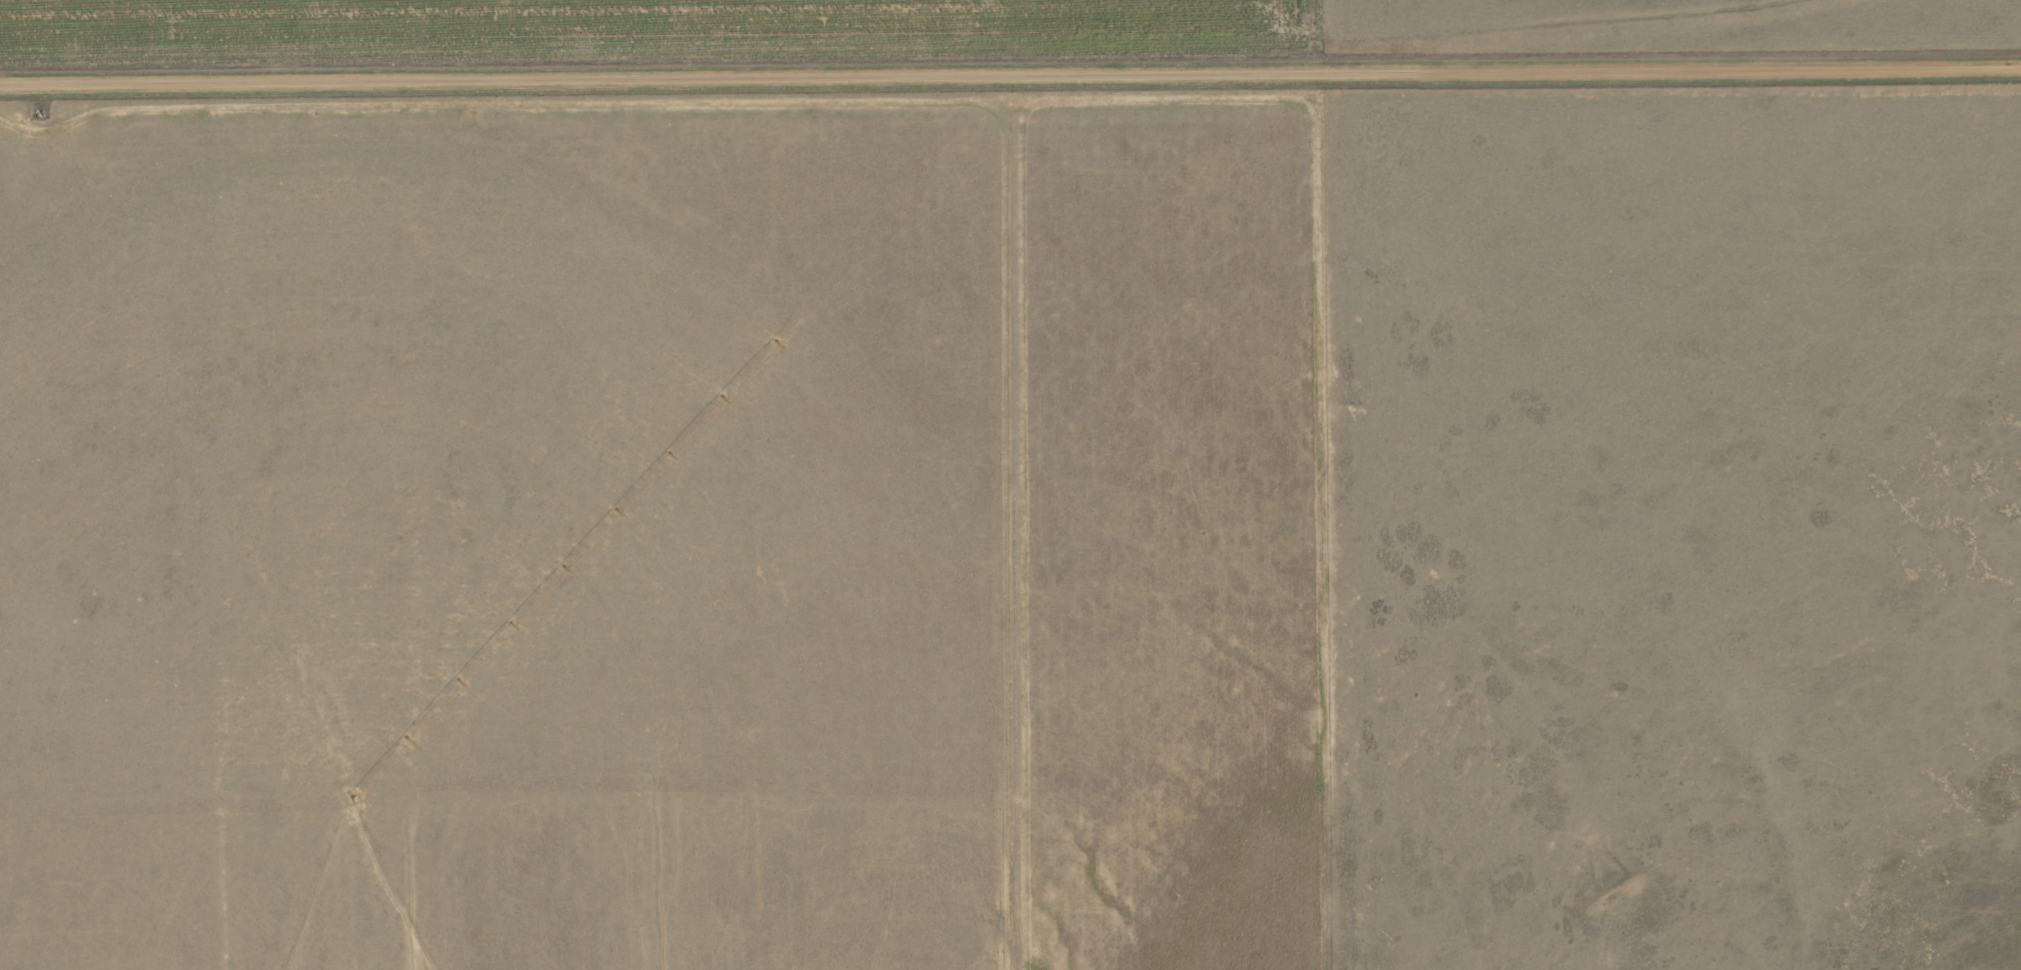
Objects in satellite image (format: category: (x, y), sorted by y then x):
road: (1010, 74)

